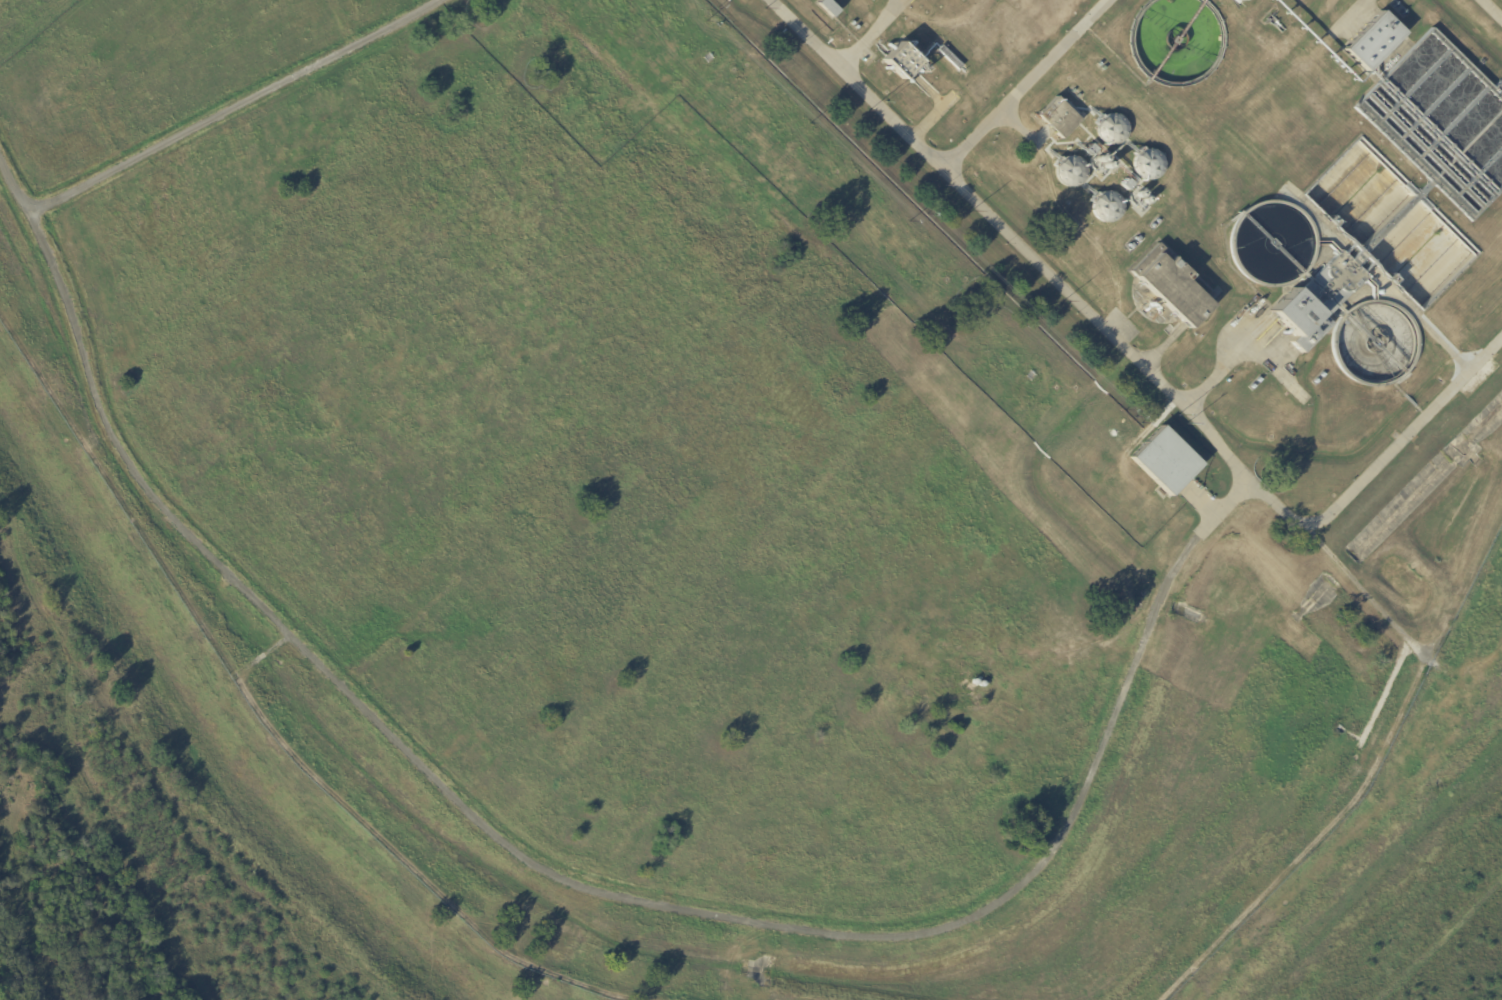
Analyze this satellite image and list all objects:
building: (960, 0)
building: (1244, 0)
building: (830, 9)
road: (1489, 11)
road: (1339, 29)
road: (869, 35)
building: (1373, 41)
building: (950, 58)
building: (710, 59)
building: (902, 60)
road: (1027, 84)
road: (935, 88)
road: (229, 108)
road: (938, 113)
building: (1058, 118)
road: (1017, 122)
building: (1112, 131)
building: (1092, 149)
building: (1148, 165)
building: (1071, 174)
building: (1125, 186)
building: (1107, 208)
road: (1068, 214)
wastewater plant: (1230, 235)
road: (1023, 247)
road: (1378, 278)
building: (1172, 286)
building: (1296, 323)
road: (1222, 374)
road: (1271, 375)
road: (1391, 451)
building: (1166, 462)
road: (572, 881)

